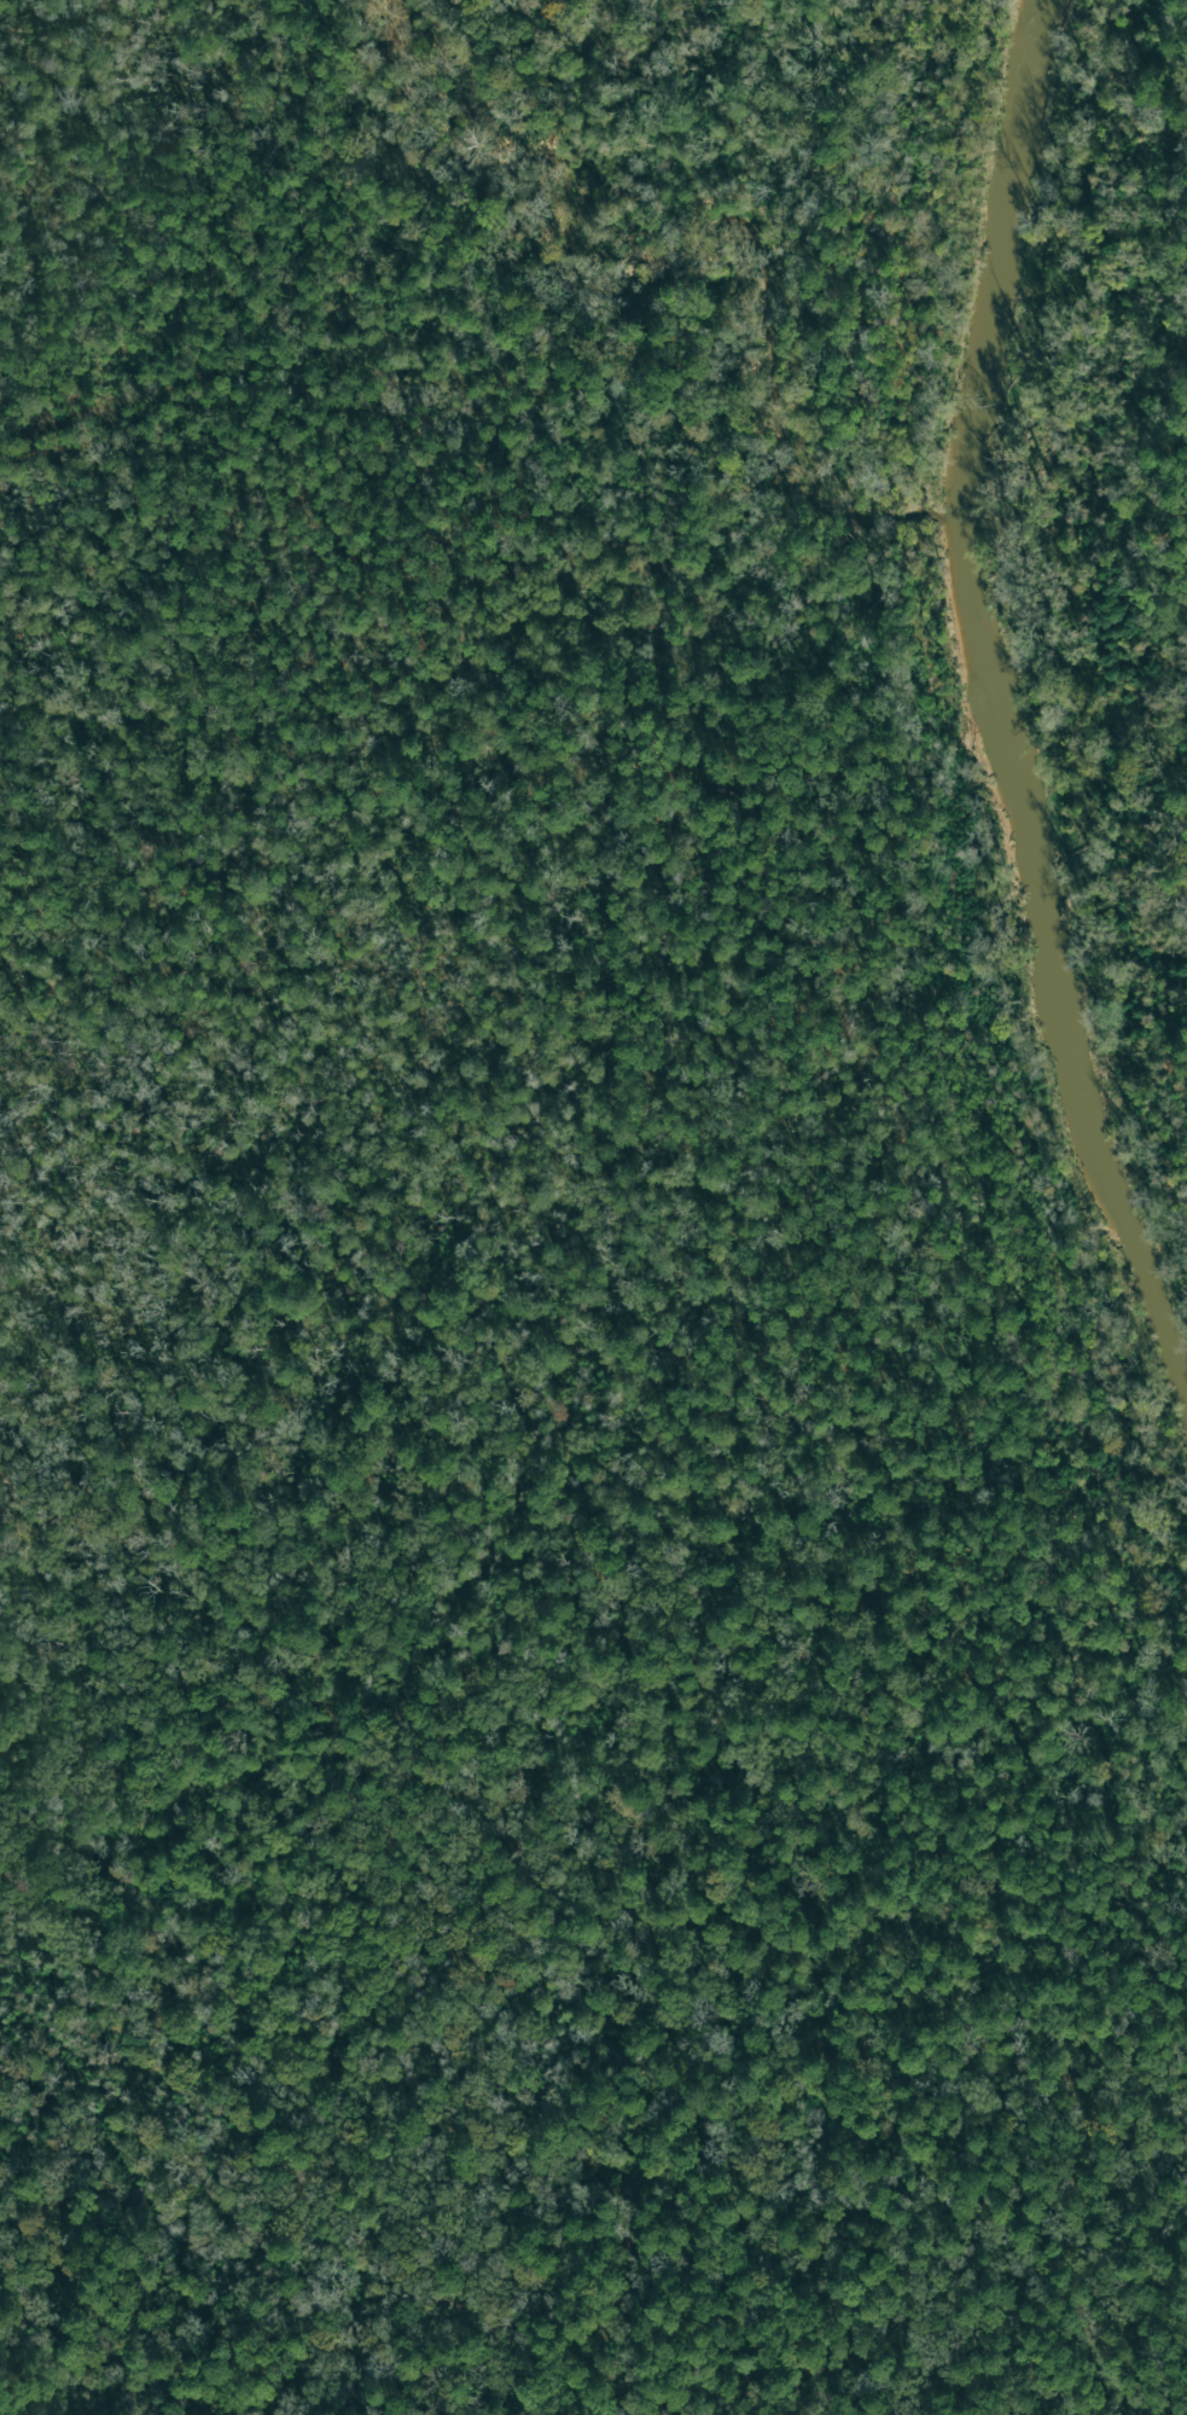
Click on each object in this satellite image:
river: (1003, 699)

